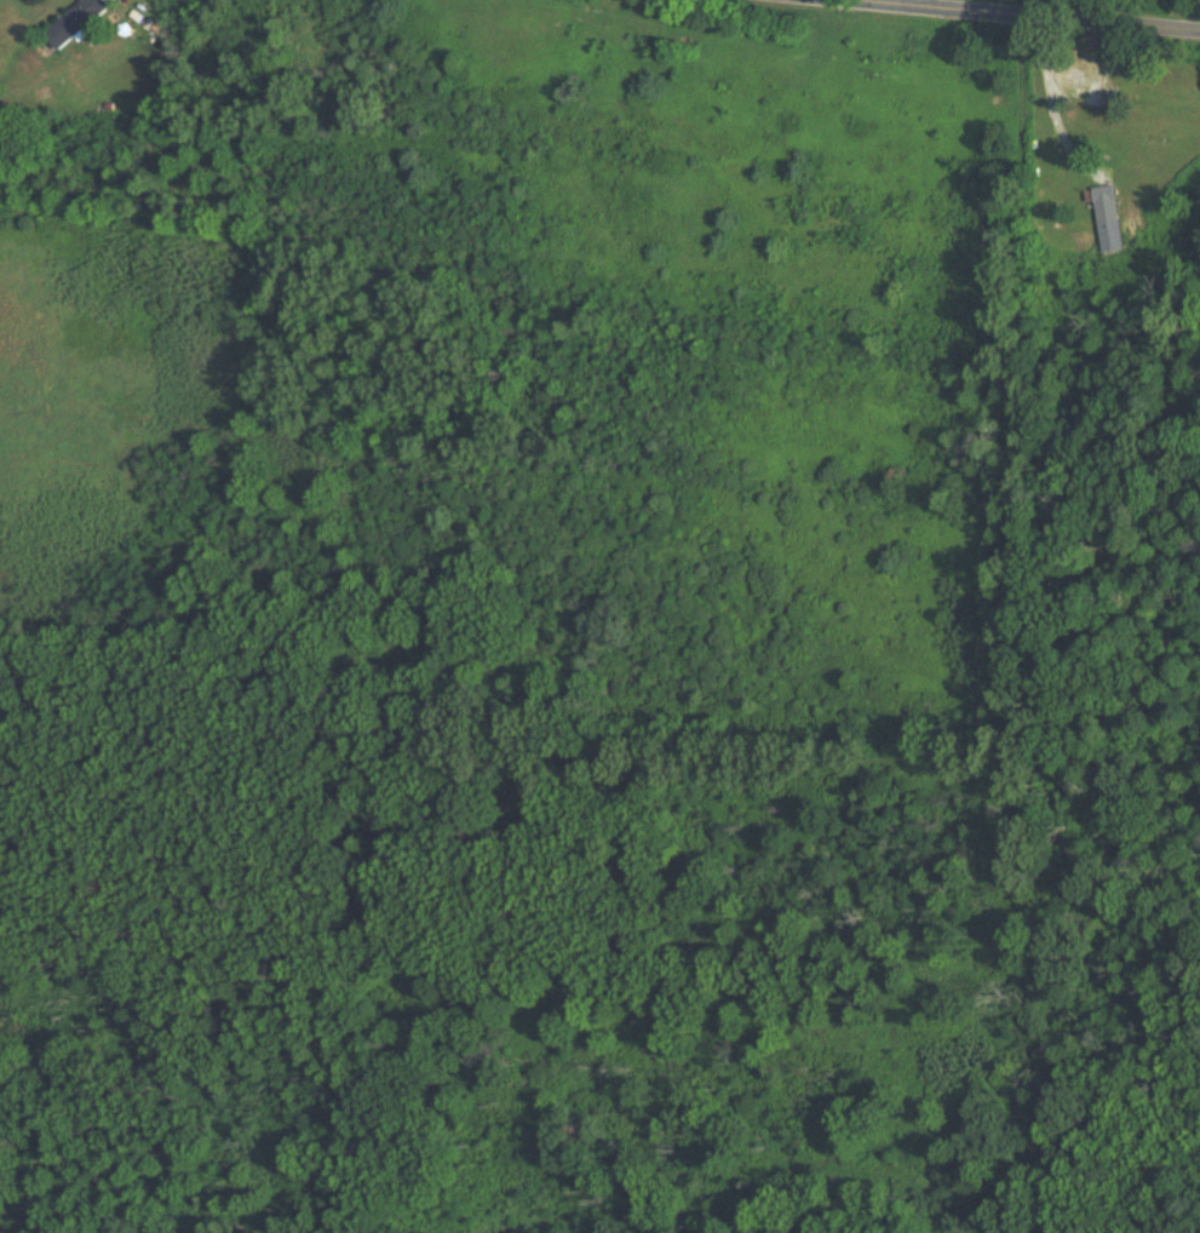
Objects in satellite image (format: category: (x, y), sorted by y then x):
road: (1030, 16)
building: (75, 21)
building: (1103, 203)

